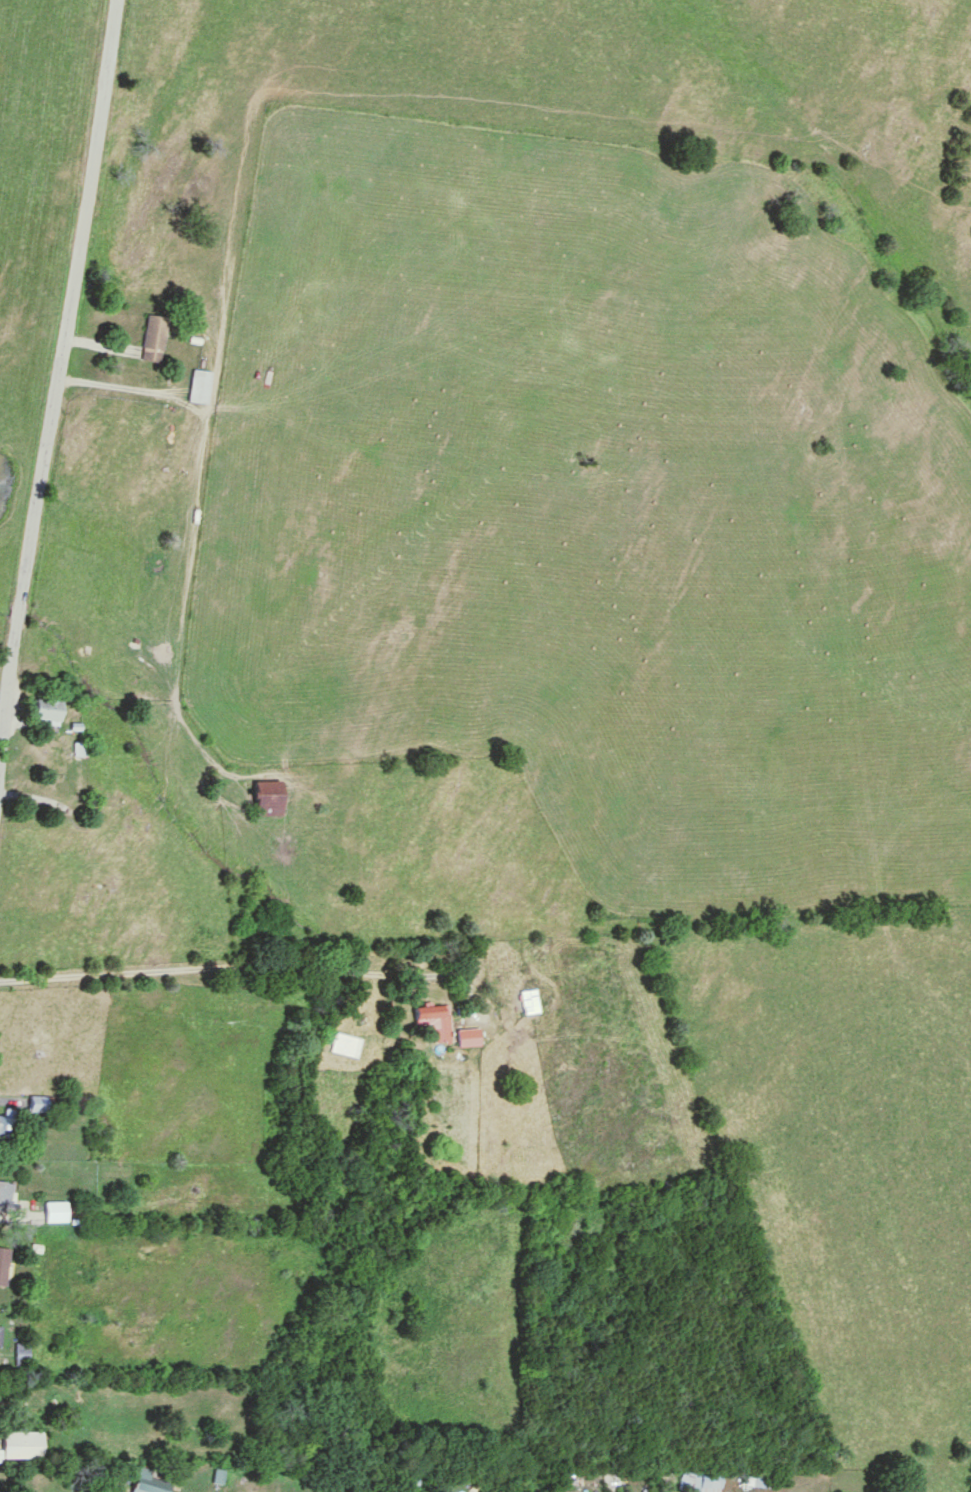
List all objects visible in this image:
building: (155, 339)
building: (201, 387)
road: (58, 397)
building: (49, 709)
building: (81, 749)
building: (270, 799)
road: (200, 987)
building: (531, 1002)
building: (436, 1021)
building: (470, 1037)
building: (5, 1195)
building: (56, 1211)
building: (4, 1265)
building: (0, 1333)
building: (28, 1440)
building: (223, 1477)
building: (757, 1479)
building: (151, 1482)
building: (414, 1482)
building: (701, 1482)

